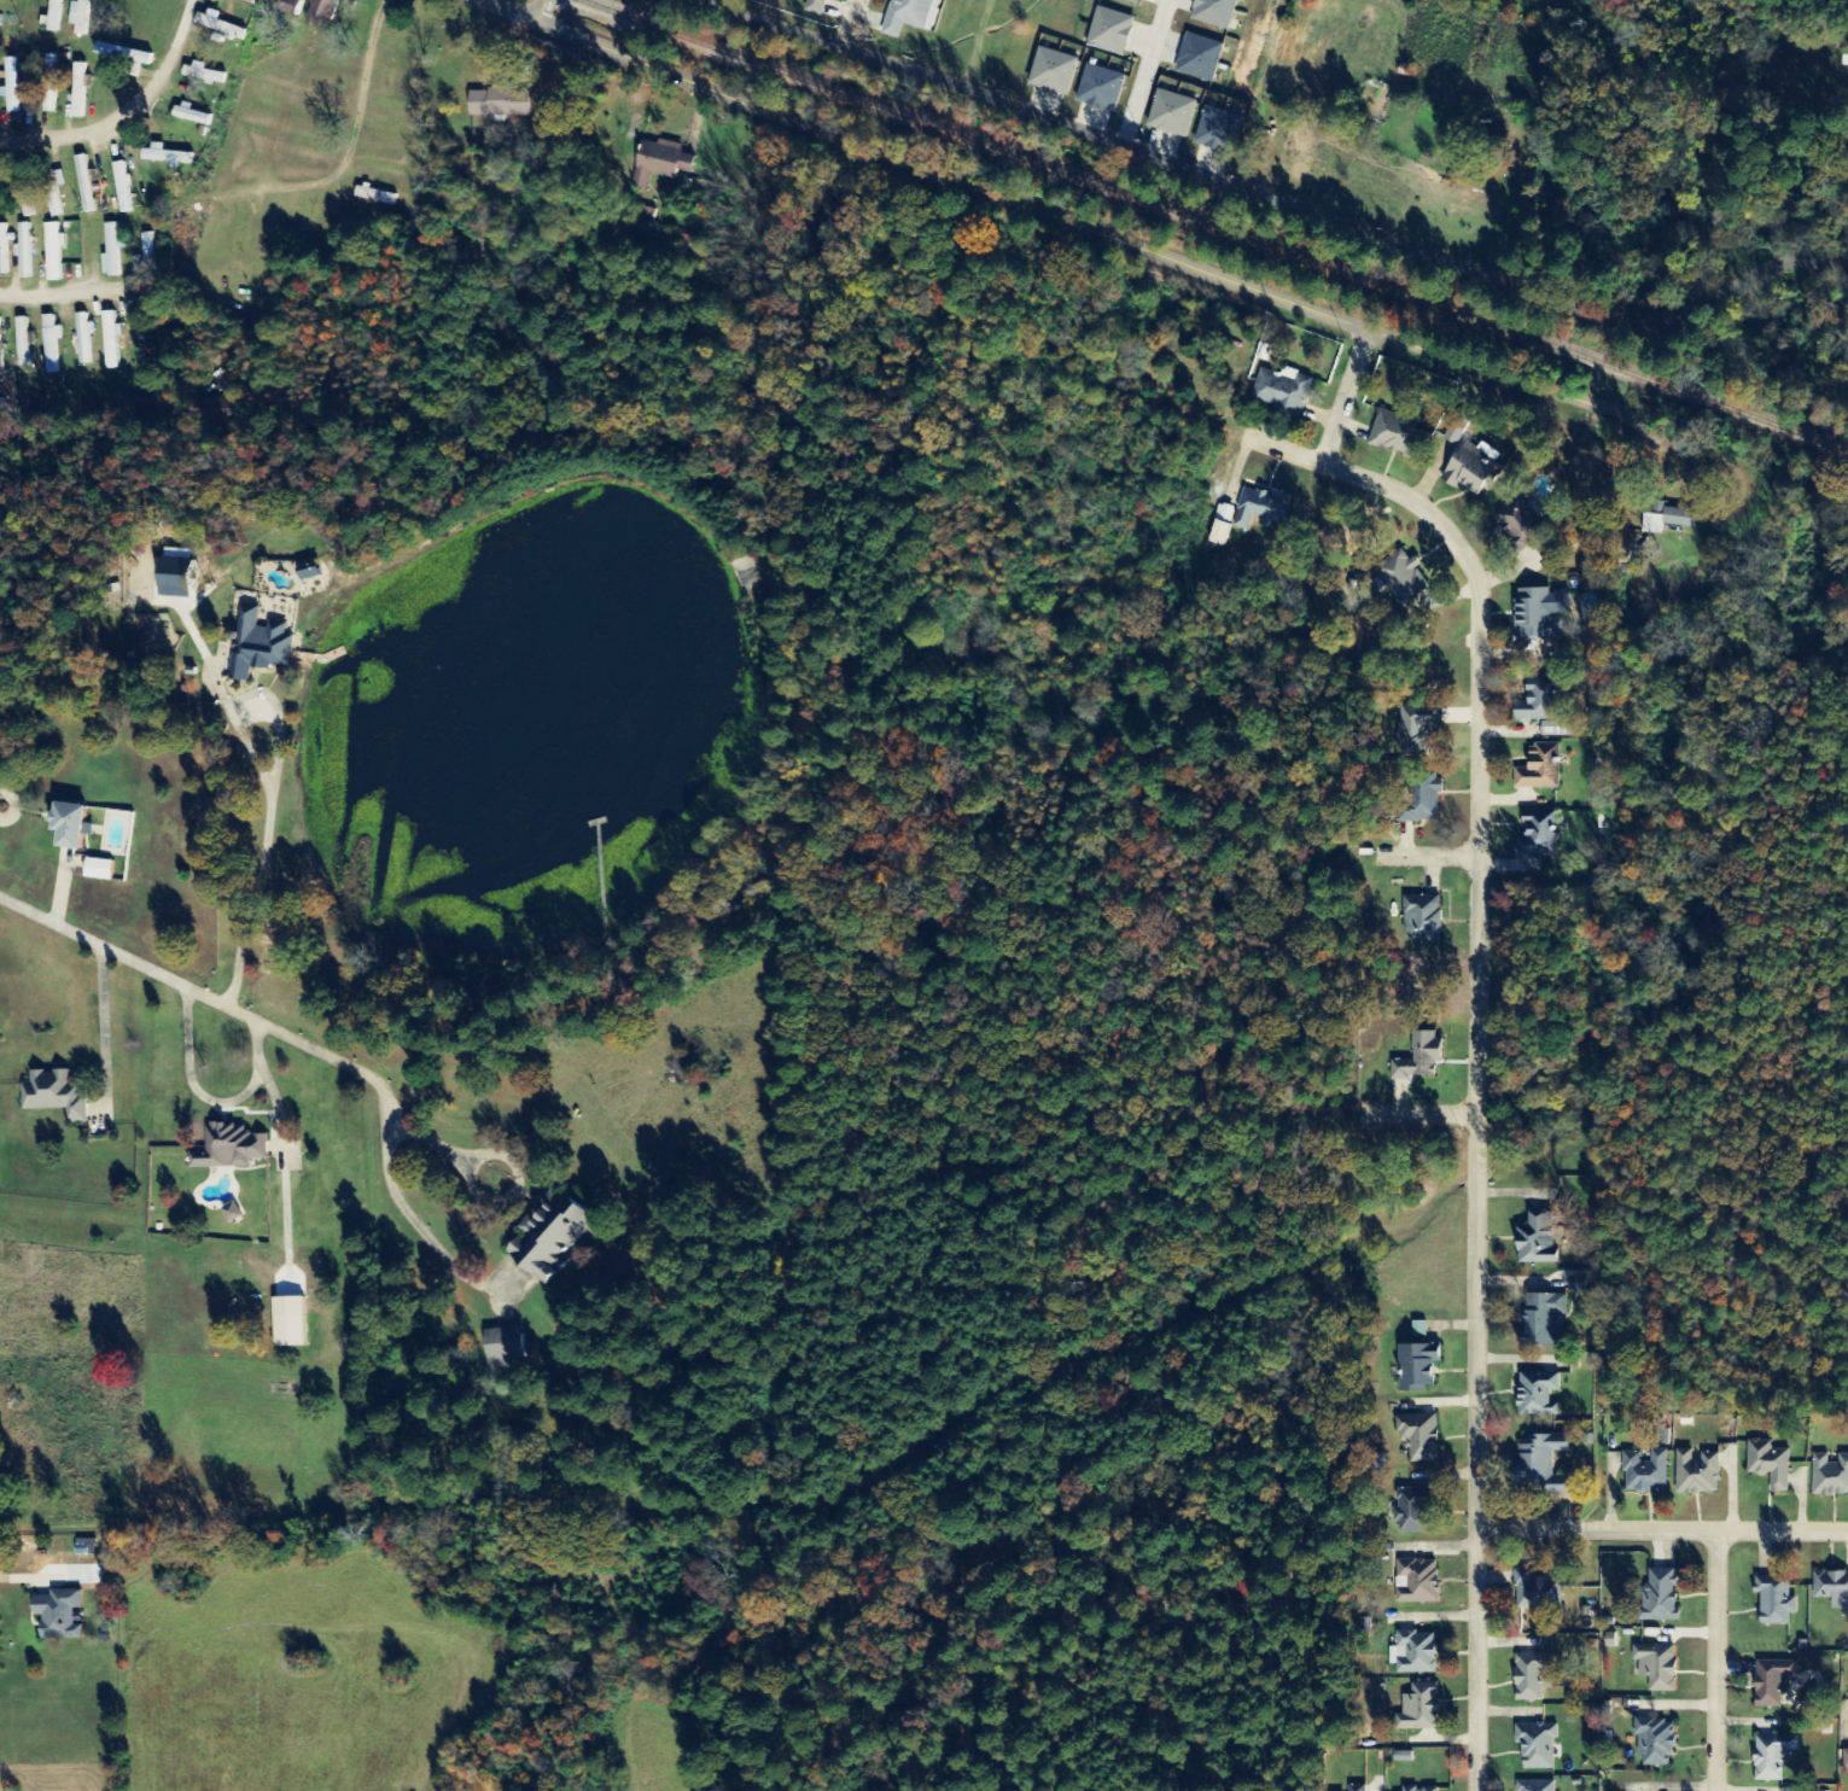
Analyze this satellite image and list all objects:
building: (1135, 1)
building: (297, 6)
building: (820, 7)
building: (328, 8)
road: (537, 11)
building: (1217, 12)
building: (83, 16)
building: (913, 16)
building: (56, 17)
building: (223, 25)
building: (1113, 33)
building: (124, 53)
building: (1201, 58)
building: (1056, 72)
building: (206, 75)
building: (49, 83)
building: (13, 84)
building: (1103, 88)
building: (82, 91)
building: (502, 104)
building: (1174, 115)
building: (194, 116)
road: (136, 123)
building: (1222, 132)
building: (170, 158)
building: (664, 162)
road: (348, 169)
building: (694, 177)
building: (87, 185)
building: (126, 188)
building: (378, 196)
road: (1287, 197)
building: (56, 198)
road: (1038, 209)
railway: (1211, 226)
building: (4, 251)
building: (113, 251)
building: (25, 252)
building: (56, 252)
building: (148, 257)
road: (63, 294)
building: (86, 339)
building: (115, 340)
building: (24, 343)
building: (1, 344)
building: (53, 345)
building: (1281, 392)
road: (1349, 398)
building: (216, 410)
building: (1455, 430)
building: (1392, 436)
building: (1468, 472)
building: (1260, 511)
building: (1663, 520)
building: (1515, 525)
building: (1219, 526)
building: (314, 571)
building: (185, 579)
building: (1400, 579)
building: (1537, 616)
building: (262, 647)
building: (1539, 710)
building: (1415, 730)
building: (1538, 770)
building: (1419, 801)
building: (76, 826)
building: (1534, 834)
road: (1430, 854)
building: (103, 870)
building: (1418, 920)
road: (215, 1000)
road: (1481, 1037)
building: (1415, 1058)
building: (59, 1096)
road: (1421, 1115)
building: (233, 1149)
building: (235, 1214)
building: (1533, 1241)
building: (1541, 1320)
building: (295, 1334)
building: (509, 1349)
building: (1413, 1369)
building: (1534, 1395)
building: (1416, 1439)
building: (1766, 1465)
building: (1535, 1466)
building: (1643, 1474)
building: (1693, 1474)
building: (1829, 1477)
building: (1407, 1512)
road: (1663, 1532)
building: (1415, 1582)
building: (1831, 1591)
building: (1533, 1592)
building: (1656, 1595)
building: (1771, 1602)
building: (64, 1616)
building: (1412, 1655)
road: (1716, 1662)
building: (1654, 1667)
building: (1529, 1678)
building: (1770, 1682)
building: (1417, 1709)
building: (1652, 1744)
building: (1533, 1746)
building: (1770, 1757)
building: (1844, 1761)
building: (1533, 1786)
building: (1354, 1789)
building: (1416, 1790)

